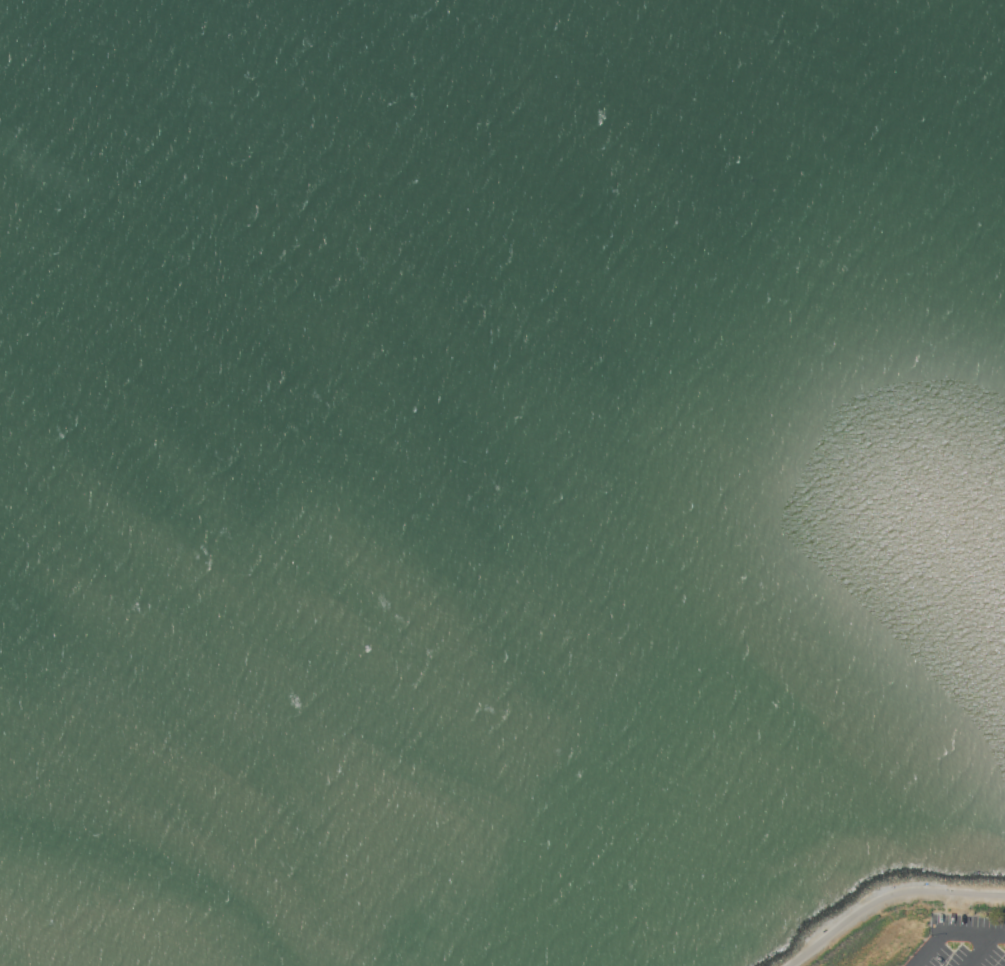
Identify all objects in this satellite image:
road: (975, 932)
parking lot: (958, 943)
road: (930, 948)
road: (977, 950)

